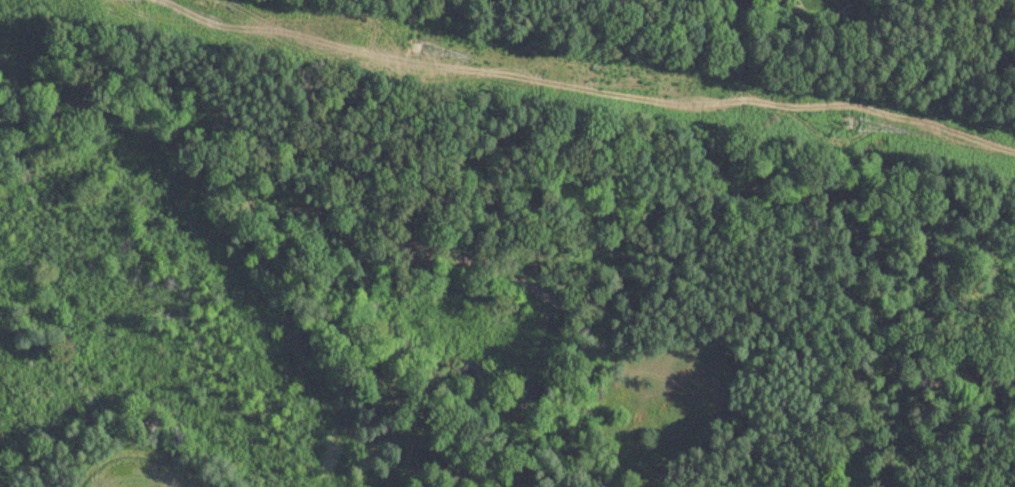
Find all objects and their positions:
power tower: (415, 48)
power tower: (843, 121)

